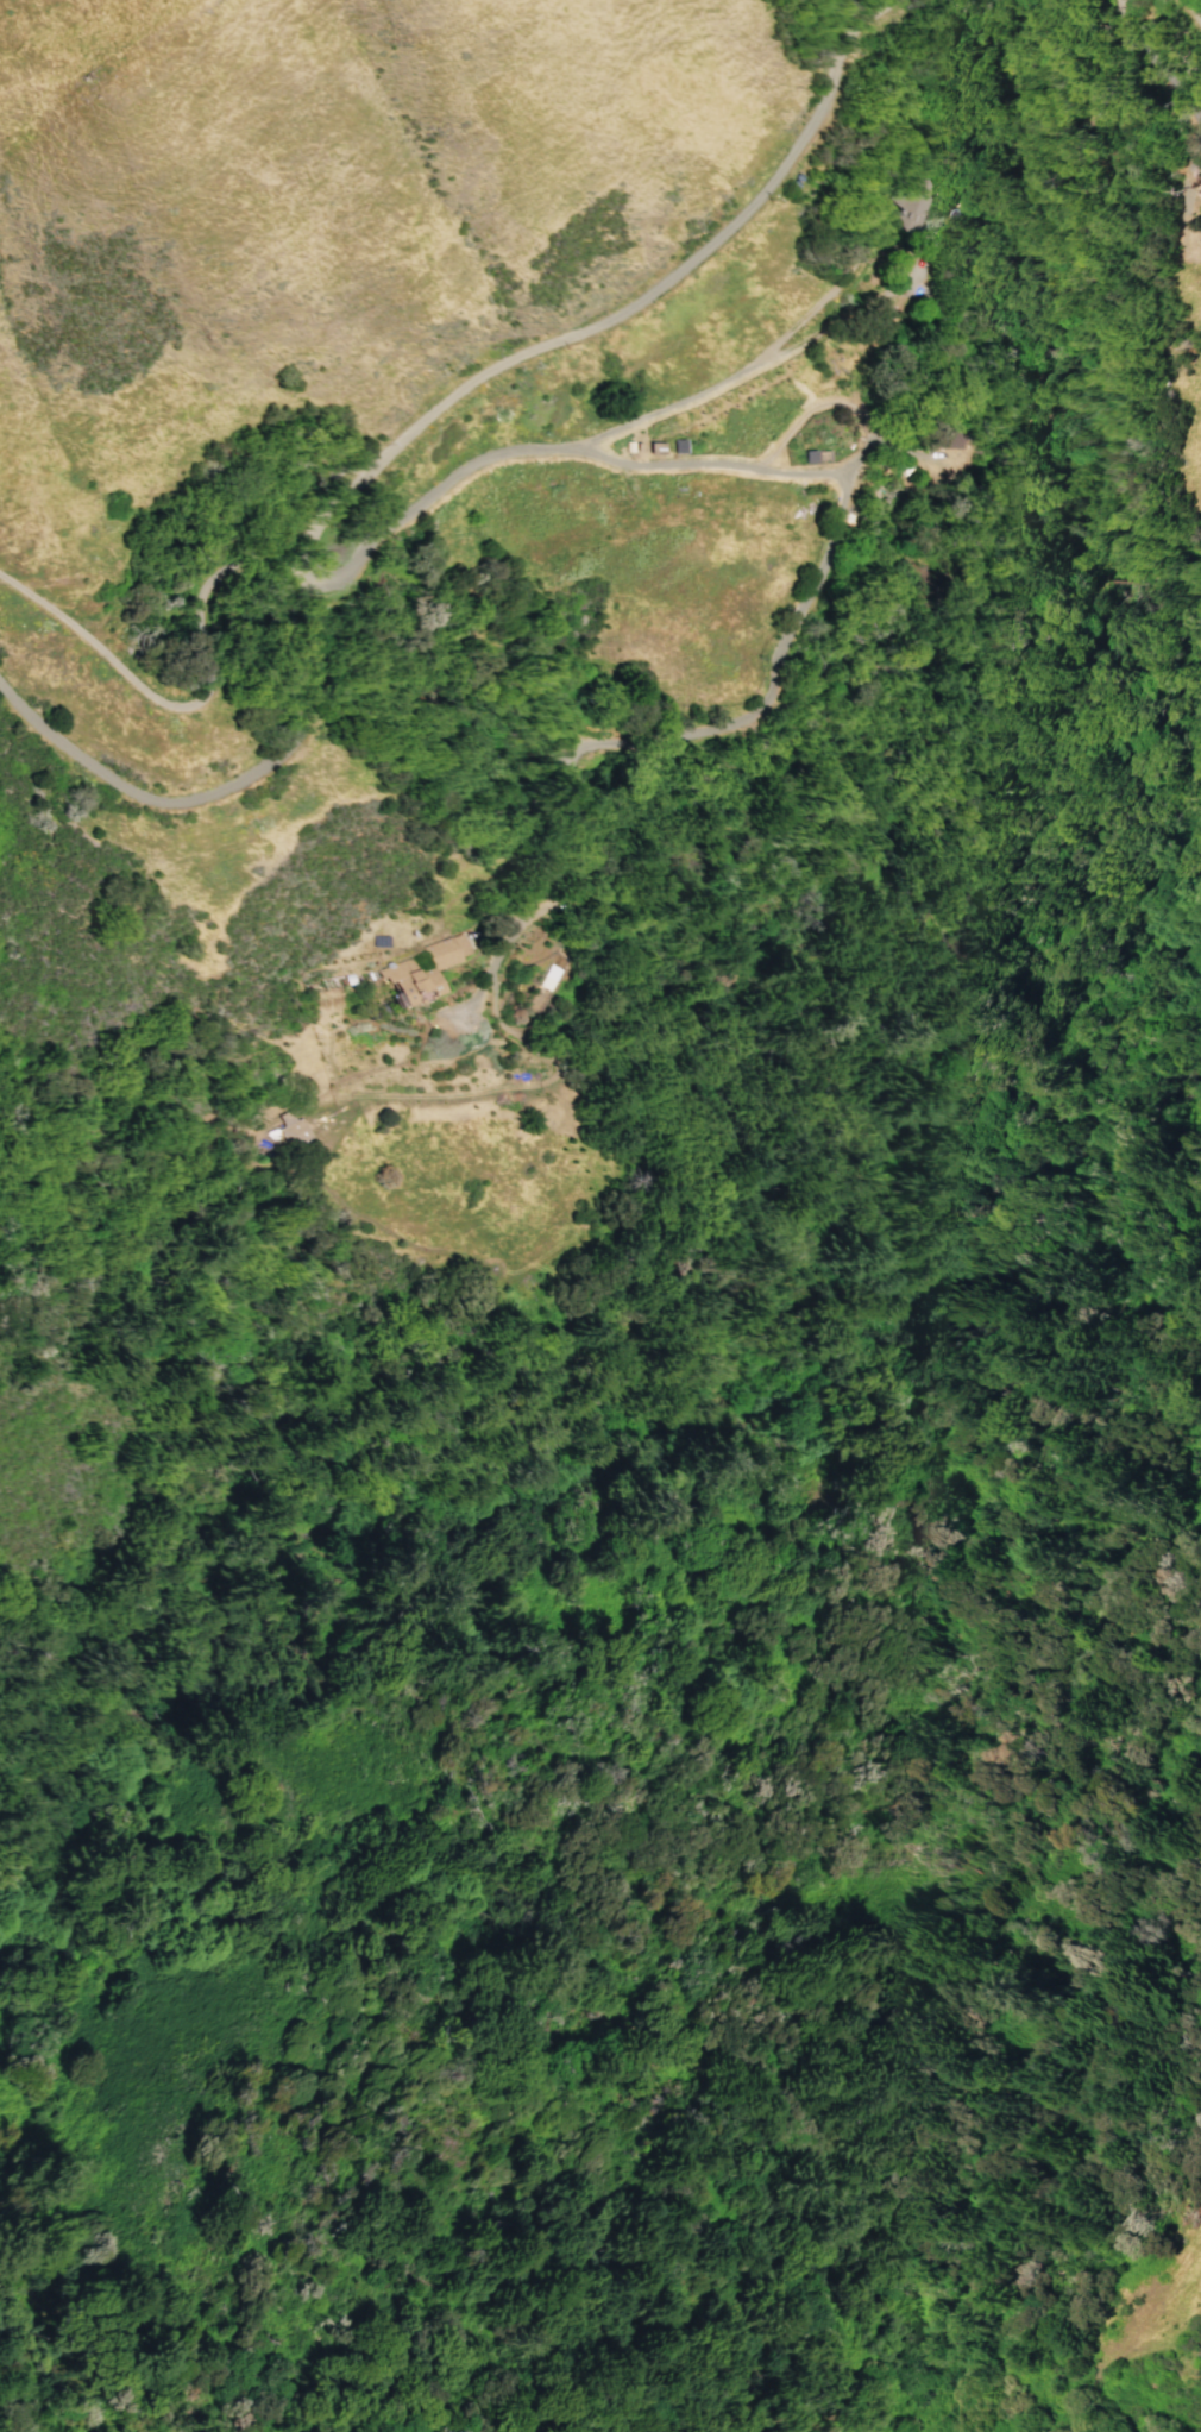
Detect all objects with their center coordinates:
road: (1193, 11)
road: (1155, 80)
building: (1199, 244)
road: (624, 308)
road: (766, 365)
road: (856, 529)
road: (203, 643)
road: (218, 787)
building: (423, 973)
building: (547, 978)
building: (291, 1133)

